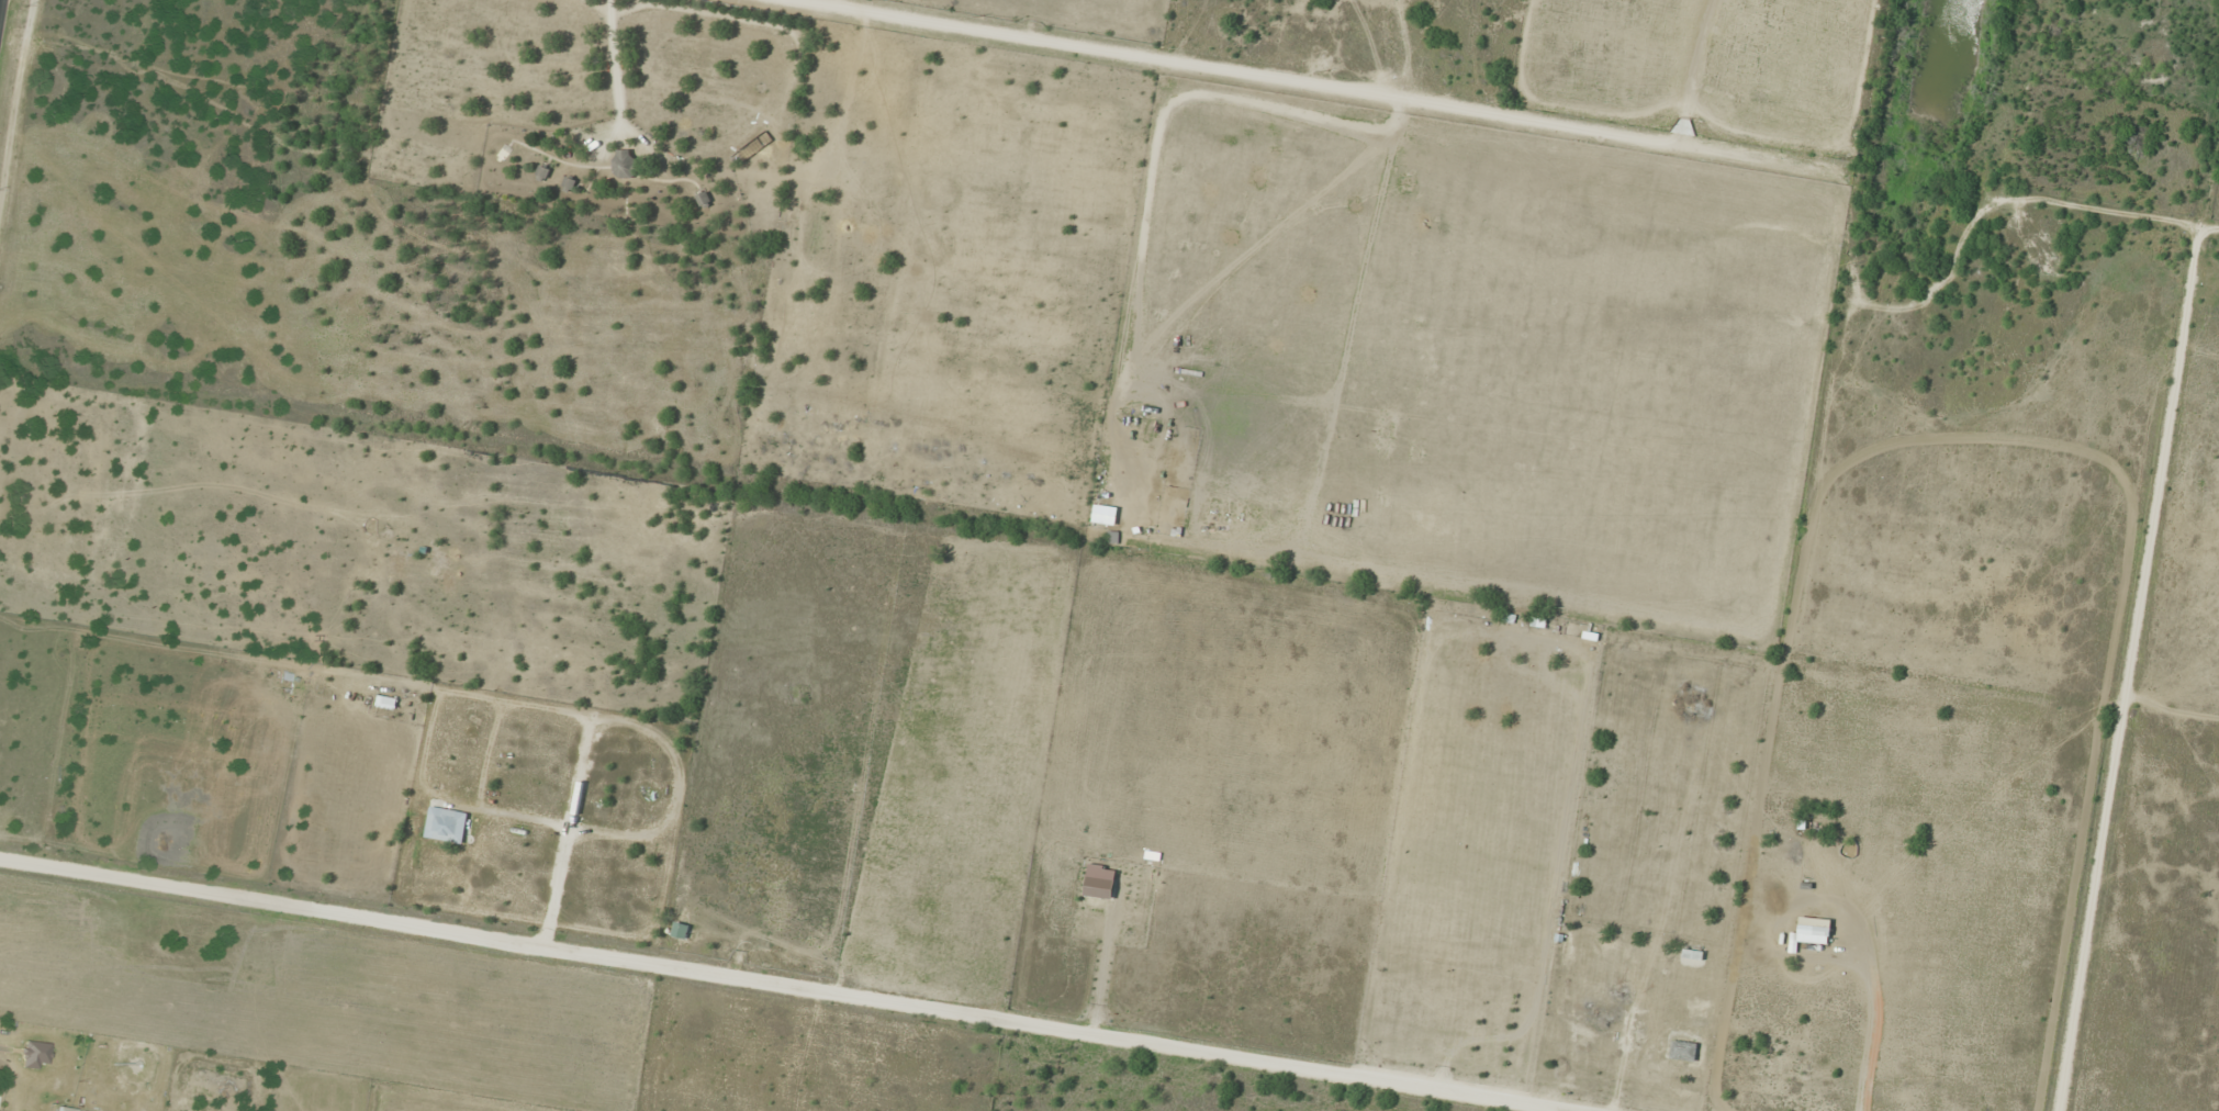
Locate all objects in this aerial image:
building: (501, 155)
building: (623, 164)

